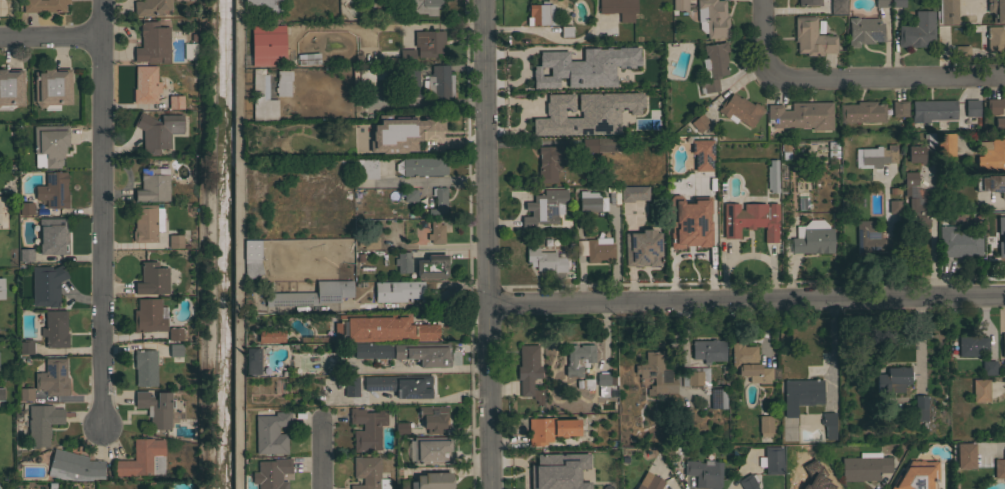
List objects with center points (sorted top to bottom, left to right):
building: (809, 2)
building: (881, 3)
building: (897, 3)
building: (44, 5)
building: (679, 5)
building: (425, 6)
building: (838, 6)
building: (150, 7)
building: (268, 8)
building: (619, 8)
building: (997, 10)
building: (947, 11)
building: (540, 13)
building: (972, 16)
building: (713, 17)
building: (918, 30)
building: (566, 31)
building: (864, 31)
road: (546, 33)
road: (763, 36)
building: (811, 37)
road: (50, 38)
building: (995, 39)
building: (428, 42)
building: (153, 43)
building: (266, 45)
building: (189, 50)
building: (959, 52)
building: (407, 56)
building: (553, 58)
building: (304, 60)
building: (526, 62)
building: (713, 66)
building: (590, 76)
building: (393, 78)
road: (886, 78)
building: (283, 82)
building: (439, 82)
building: (145, 84)
building: (52, 87)
building: (11, 88)
building: (550, 89)
building: (262, 97)
building: (175, 102)
road: (424, 103)
building: (994, 105)
building: (971, 107)
building: (899, 108)
building: (739, 110)
building: (933, 110)
building: (862, 112)
building: (601, 115)
building: (801, 115)
building: (547, 120)
building: (699, 121)
building: (999, 122)
building: (157, 131)
building: (442, 136)
building: (929, 138)
building: (385, 142)
building: (603, 144)
building: (945, 144)
building: (50, 145)
building: (916, 153)
building: (702, 154)
building: (327, 155)
building: (874, 156)
building: (991, 156)
building: (549, 162)
building: (424, 166)
building: (365, 169)
building: (772, 176)
building: (909, 181)
building: (990, 183)
building: (153, 185)
building: (53, 190)
building: (611, 193)
building: (633, 193)
building: (410, 194)
building: (893, 194)
building: (589, 201)
building: (439, 203)
building: (952, 205)
building: (895, 206)
building: (26, 208)
building: (543, 209)
road: (100, 212)
building: (917, 213)
building: (750, 219)
building: (689, 221)
building: (146, 223)
building: (435, 232)
building: (868, 235)
building: (54, 236)
road: (887, 236)
building: (999, 237)
building: (175, 241)
building: (813, 241)
building: (959, 241)
building: (370, 242)
road: (200, 244)
road: (487, 244)
building: (595, 248)
building: (642, 248)
building: (26, 254)
building: (251, 258)
building: (545, 260)
building: (403, 262)
building: (432, 266)
building: (152, 279)
building: (48, 286)
building: (1, 288)
building: (398, 291)
building: (312, 294)
road: (746, 299)
building: (148, 315)
building: (382, 327)
building: (55, 329)
building: (175, 333)
building: (269, 335)
building: (313, 339)
building: (971, 344)
building: (1003, 345)
building: (26, 346)
building: (708, 350)
building: (176, 351)
building: (407, 352)
building: (252, 360)
building: (572, 360)
building: (750, 364)
building: (1003, 366)
building: (145, 367)
building: (988, 367)
building: (529, 371)
building: (656, 373)
building: (695, 376)
building: (53, 377)
building: (894, 378)
building: (603, 379)
building: (401, 385)
building: (278, 386)
building: (351, 386)
building: (980, 390)
building: (1, 393)
building: (26, 394)
building: (801, 394)
building: (717, 398)
building: (1004, 405)
building: (155, 408)
building: (920, 408)
building: (683, 415)
building: (433, 417)
building: (42, 423)
building: (828, 424)
building: (765, 425)
building: (402, 427)
building: (367, 428)
building: (550, 428)
building: (271, 432)
building: (431, 450)
road: (319, 455)
building: (603, 455)
building: (965, 455)
building: (143, 458)
building: (772, 460)
building: (74, 466)
building: (865, 466)
building: (999, 467)
building: (271, 473)
building: (368, 473)
building: (704, 473)
building: (571, 475)
building: (917, 476)
building: (813, 479)
building: (432, 481)
building: (748, 482)
building: (651, 483)
building: (612, 484)

